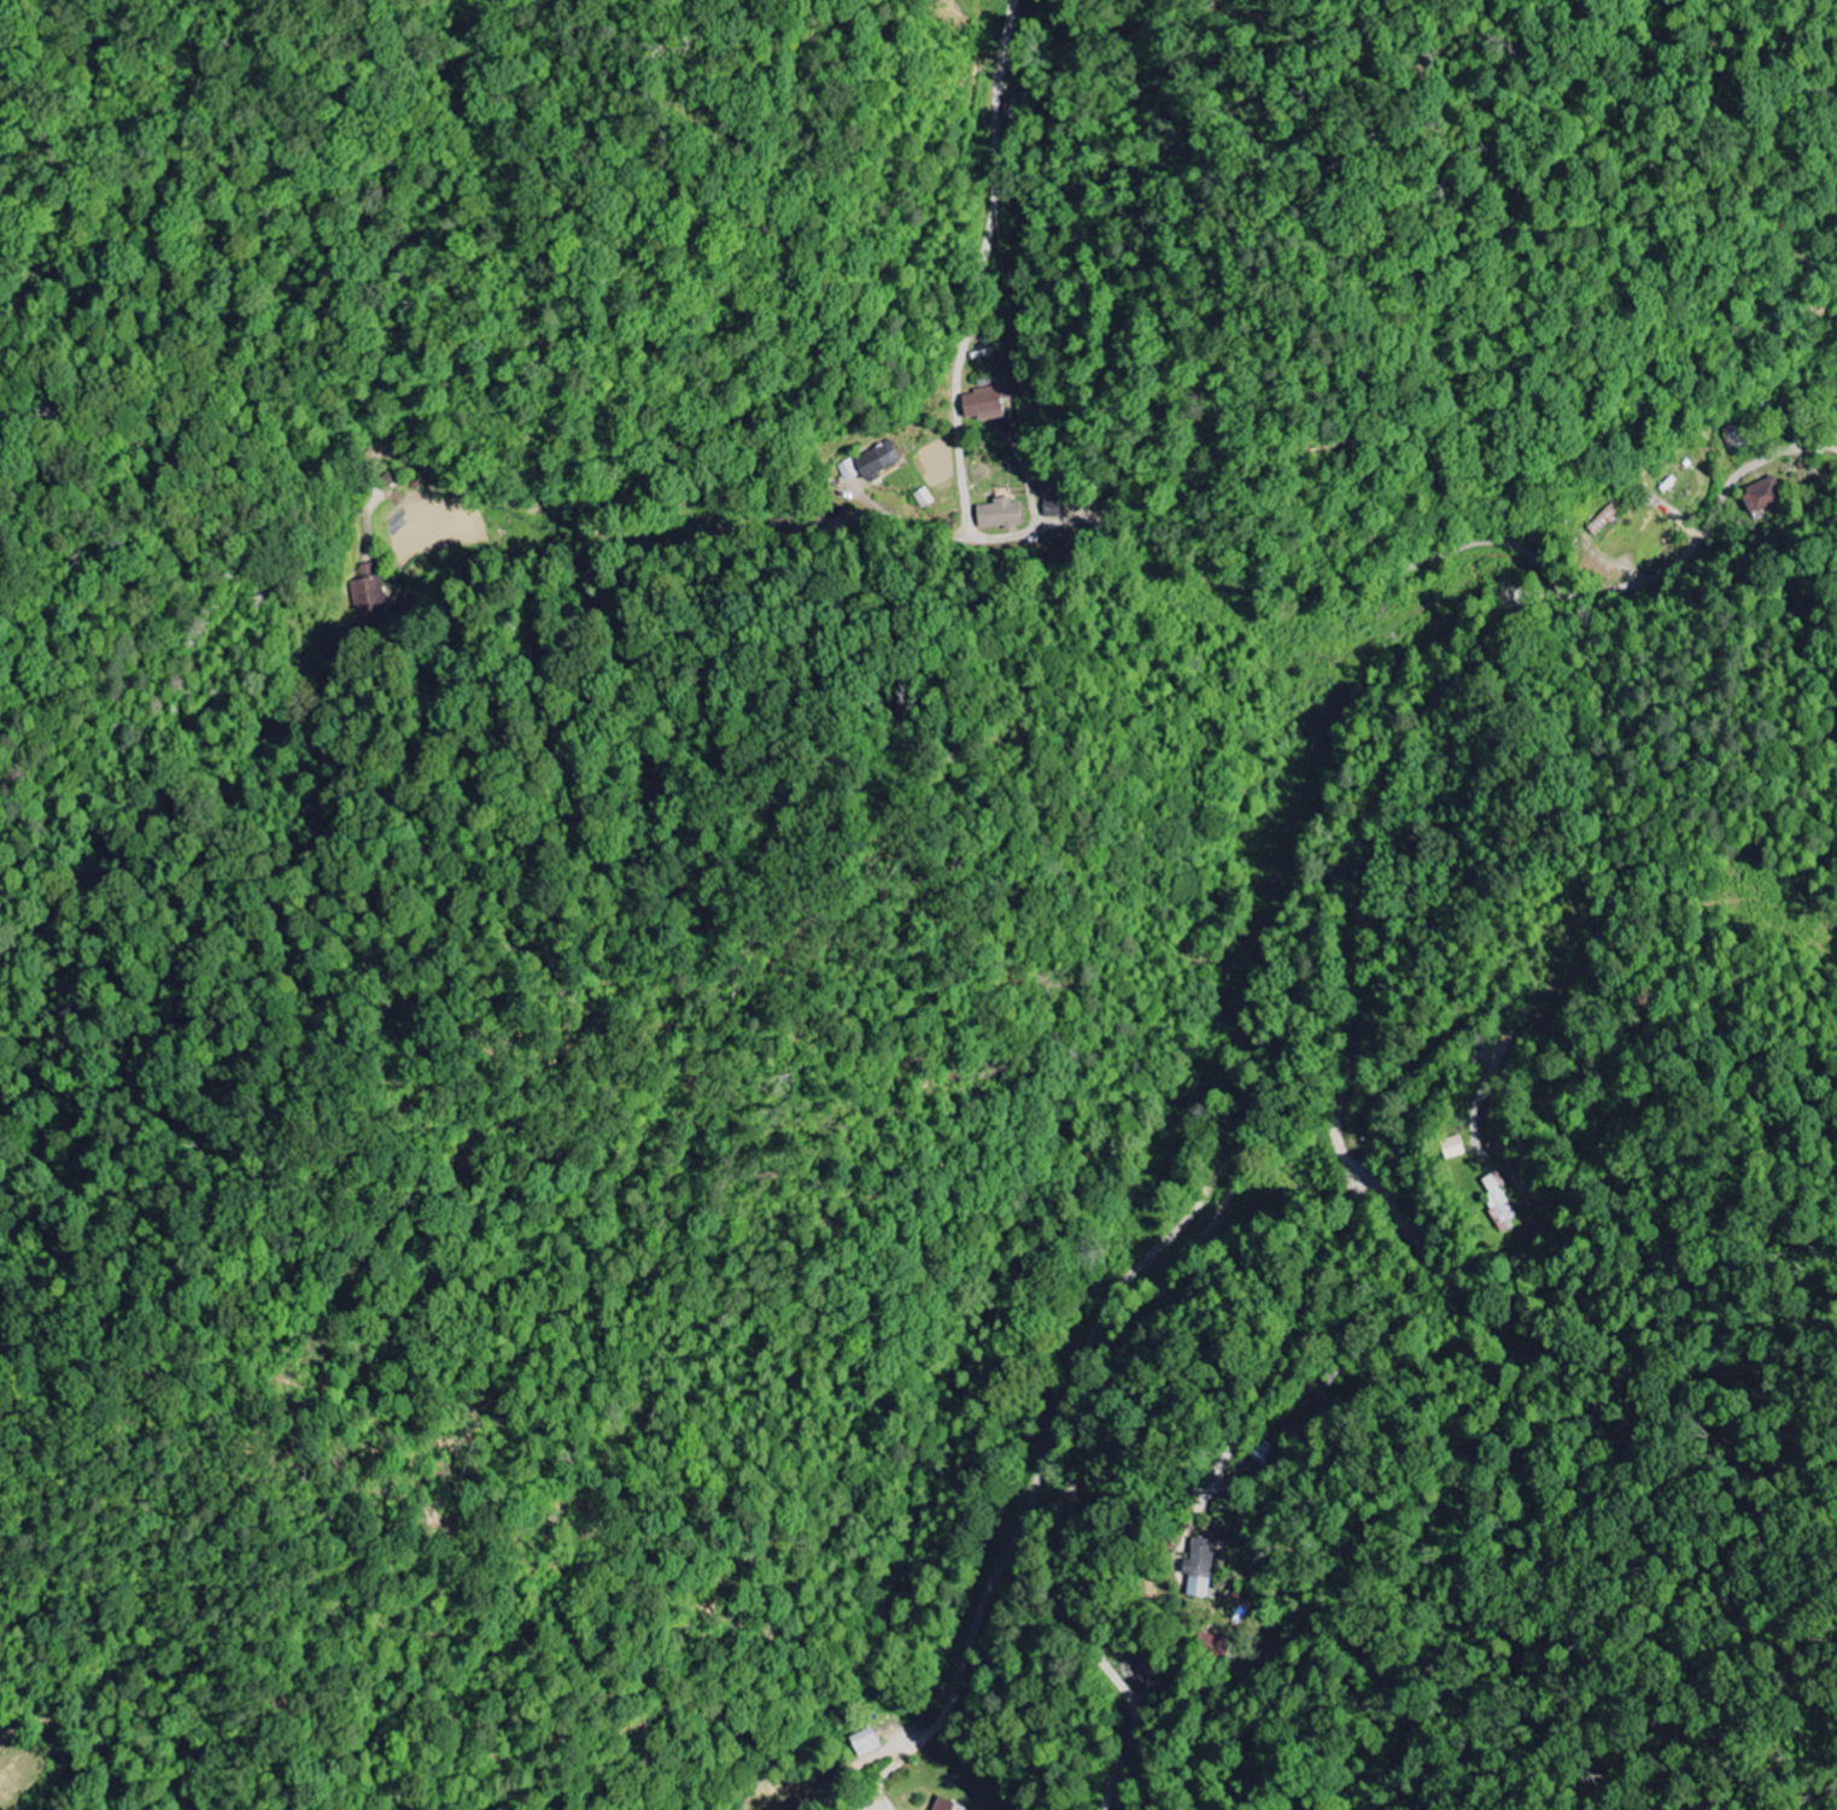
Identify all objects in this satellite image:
building: (984, 404)
building: (877, 461)
building: (848, 470)
building: (1763, 496)
building: (1052, 509)
building: (1000, 516)
road: (1170, 549)
road: (1361, 840)
building: (1498, 1201)
road: (1406, 1219)
road: (1049, 1439)
building: (1200, 1569)
building: (866, 1742)
building: (946, 1805)

